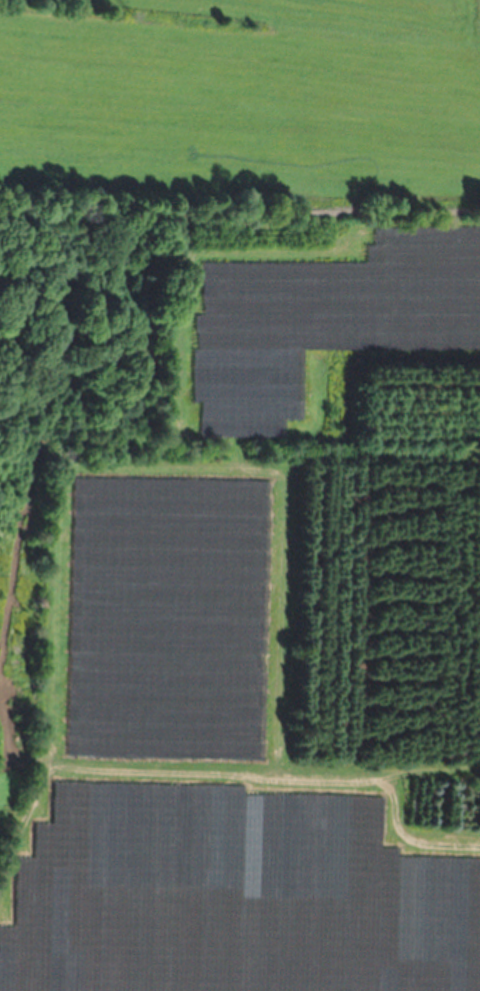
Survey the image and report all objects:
crop: (235, 499)

